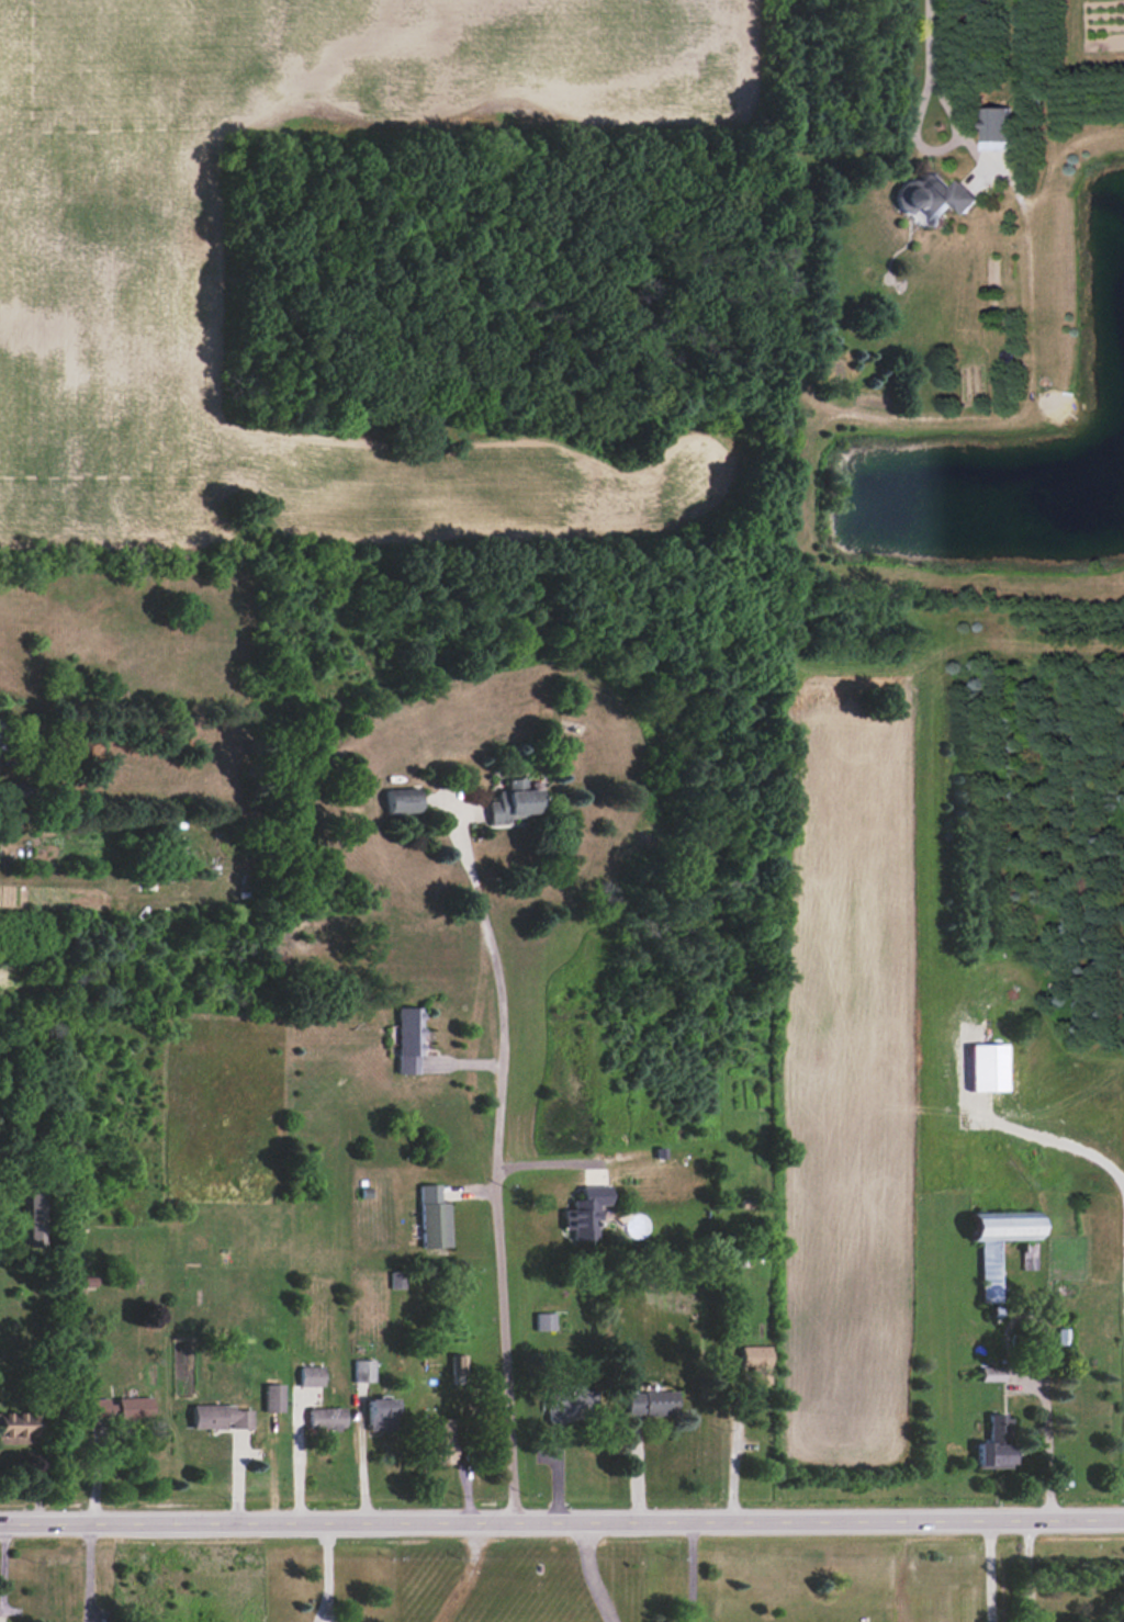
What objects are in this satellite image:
road: (928, 46)
building: (997, 127)
building: (935, 196)
building: (401, 801)
building: (514, 801)
building: (408, 1039)
building: (987, 1067)
road: (496, 1159)
building: (434, 1217)
building: (30, 1219)
building: (1027, 1254)
building: (396, 1280)
building: (544, 1320)
building: (756, 1362)
building: (459, 1366)
building: (363, 1371)
building: (991, 1373)
building: (310, 1376)
building: (273, 1398)
building: (570, 1403)
building: (651, 1403)
building: (133, 1408)
building: (102, 1409)
building: (381, 1413)
building: (220, 1417)
building: (325, 1418)
building: (19, 1428)
road: (1048, 1440)
building: (441, 1444)
building: (993, 1444)
road: (296, 1452)
road: (733, 1452)
road: (561, 1519)
road: (987, 1569)
road: (1025, 1569)
road: (327, 1570)
road: (688, 1570)
road: (87, 1572)
road: (587, 1572)

